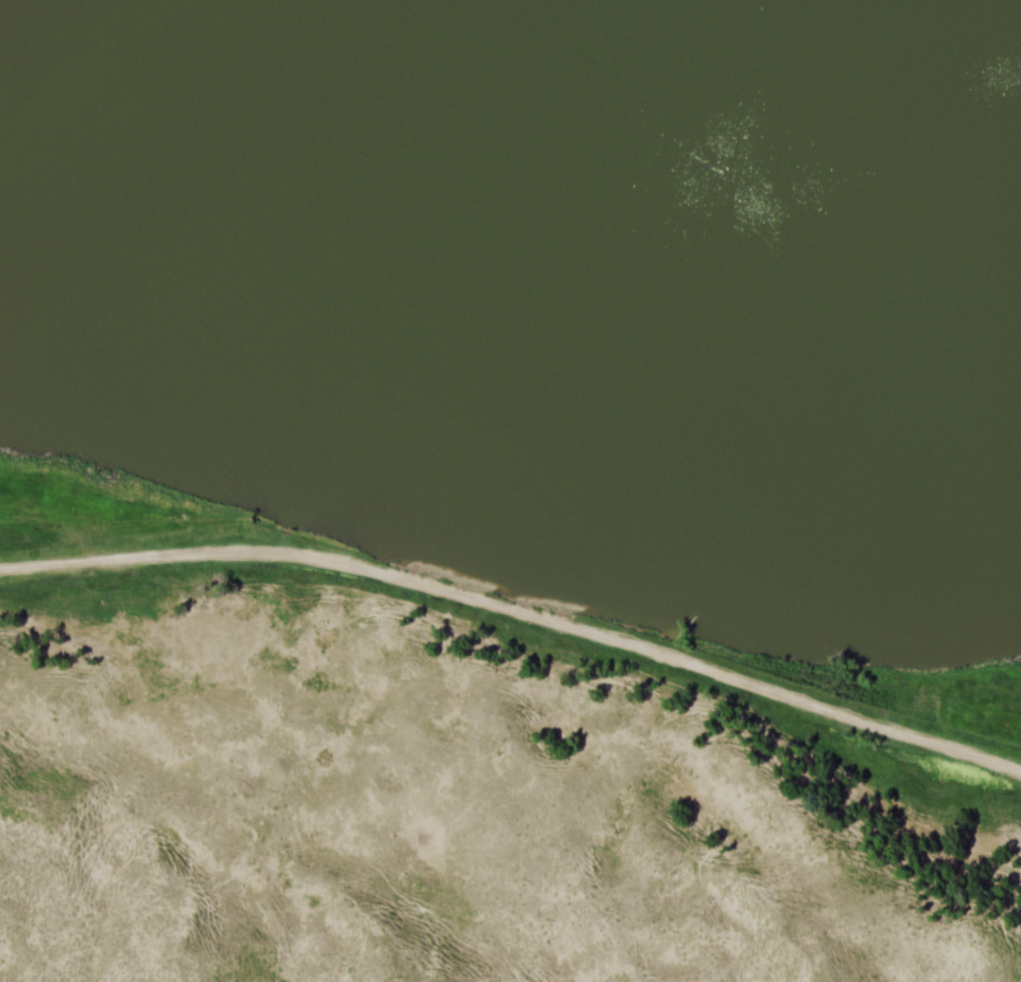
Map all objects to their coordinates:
road: (520, 620)

